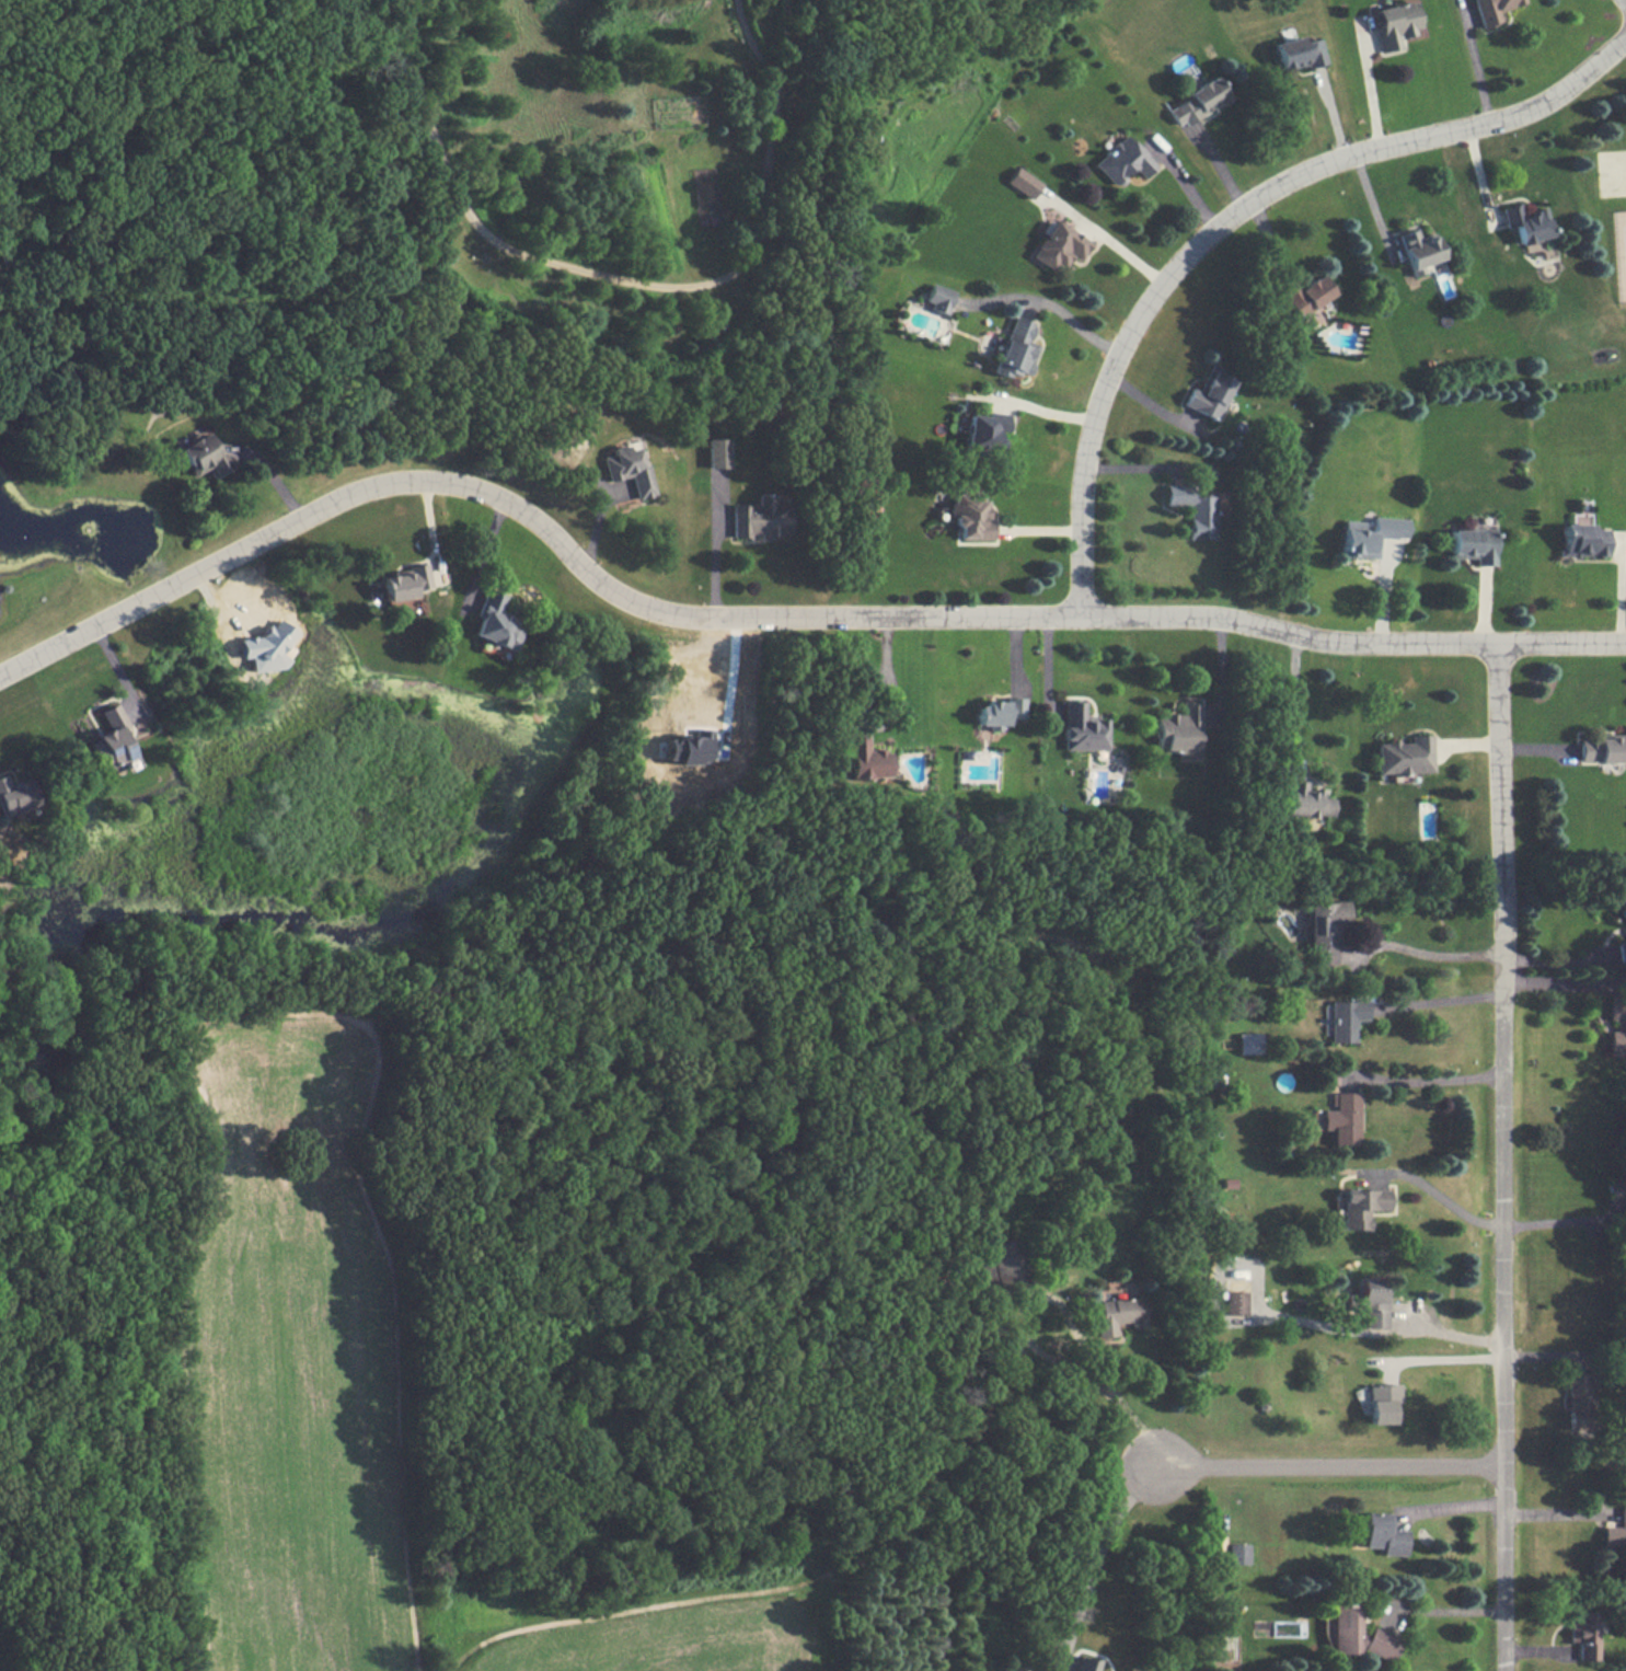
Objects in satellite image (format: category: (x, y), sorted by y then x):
building: (1491, 9)
building: (1396, 23)
road: (785, 41)
road: (751, 43)
building: (1298, 53)
road: (1476, 69)
building: (1197, 102)
building: (1121, 161)
building: (1023, 182)
road: (1231, 219)
building: (1527, 222)
building: (1058, 246)
building: (1419, 250)
road: (583, 273)
building: (1305, 296)
building: (937, 297)
road: (1050, 303)
building: (1016, 349)
building: (1208, 395)
building: (984, 430)
building: (205, 454)
building: (629, 469)
building: (1193, 509)
building: (970, 517)
building: (761, 518)
building: (1369, 535)
building: (1582, 540)
building: (1472, 545)
road: (715, 550)
road: (484, 553)
building: (402, 583)
road: (770, 618)
building: (494, 623)
building: (265, 646)
road: (886, 675)
road: (728, 678)
road: (1295, 699)
building: (1000, 712)
building: (1083, 728)
building: (1181, 731)
building: (109, 739)
building: (689, 749)
building: (1602, 750)
building: (1404, 756)
building: (866, 760)
building: (16, 799)
building: (1304, 800)
building: (1623, 909)
building: (1324, 930)
road: (1430, 955)
road: (1562, 981)
road: (1442, 1004)
building: (1345, 1018)
building: (1617, 1026)
road: (1435, 1082)
building: (1344, 1119)
road: (1504, 1156)
road: (1438, 1198)
building: (1361, 1206)
road: (1562, 1222)
building: (1000, 1266)
building: (1234, 1302)
building: (1373, 1302)
building: (1118, 1315)
road: (1442, 1335)
road: (1446, 1359)
road: (1112, 1390)
building: (1576, 1399)
building: (1379, 1403)
road: (1329, 1467)
road: (1445, 1507)
building: (1615, 1532)
building: (1382, 1535)
building: (1238, 1554)
road: (1096, 1558)
road: (1443, 1610)
building: (1345, 1629)
building: (1583, 1634)
building: (1379, 1644)
building: (1085, 1663)

